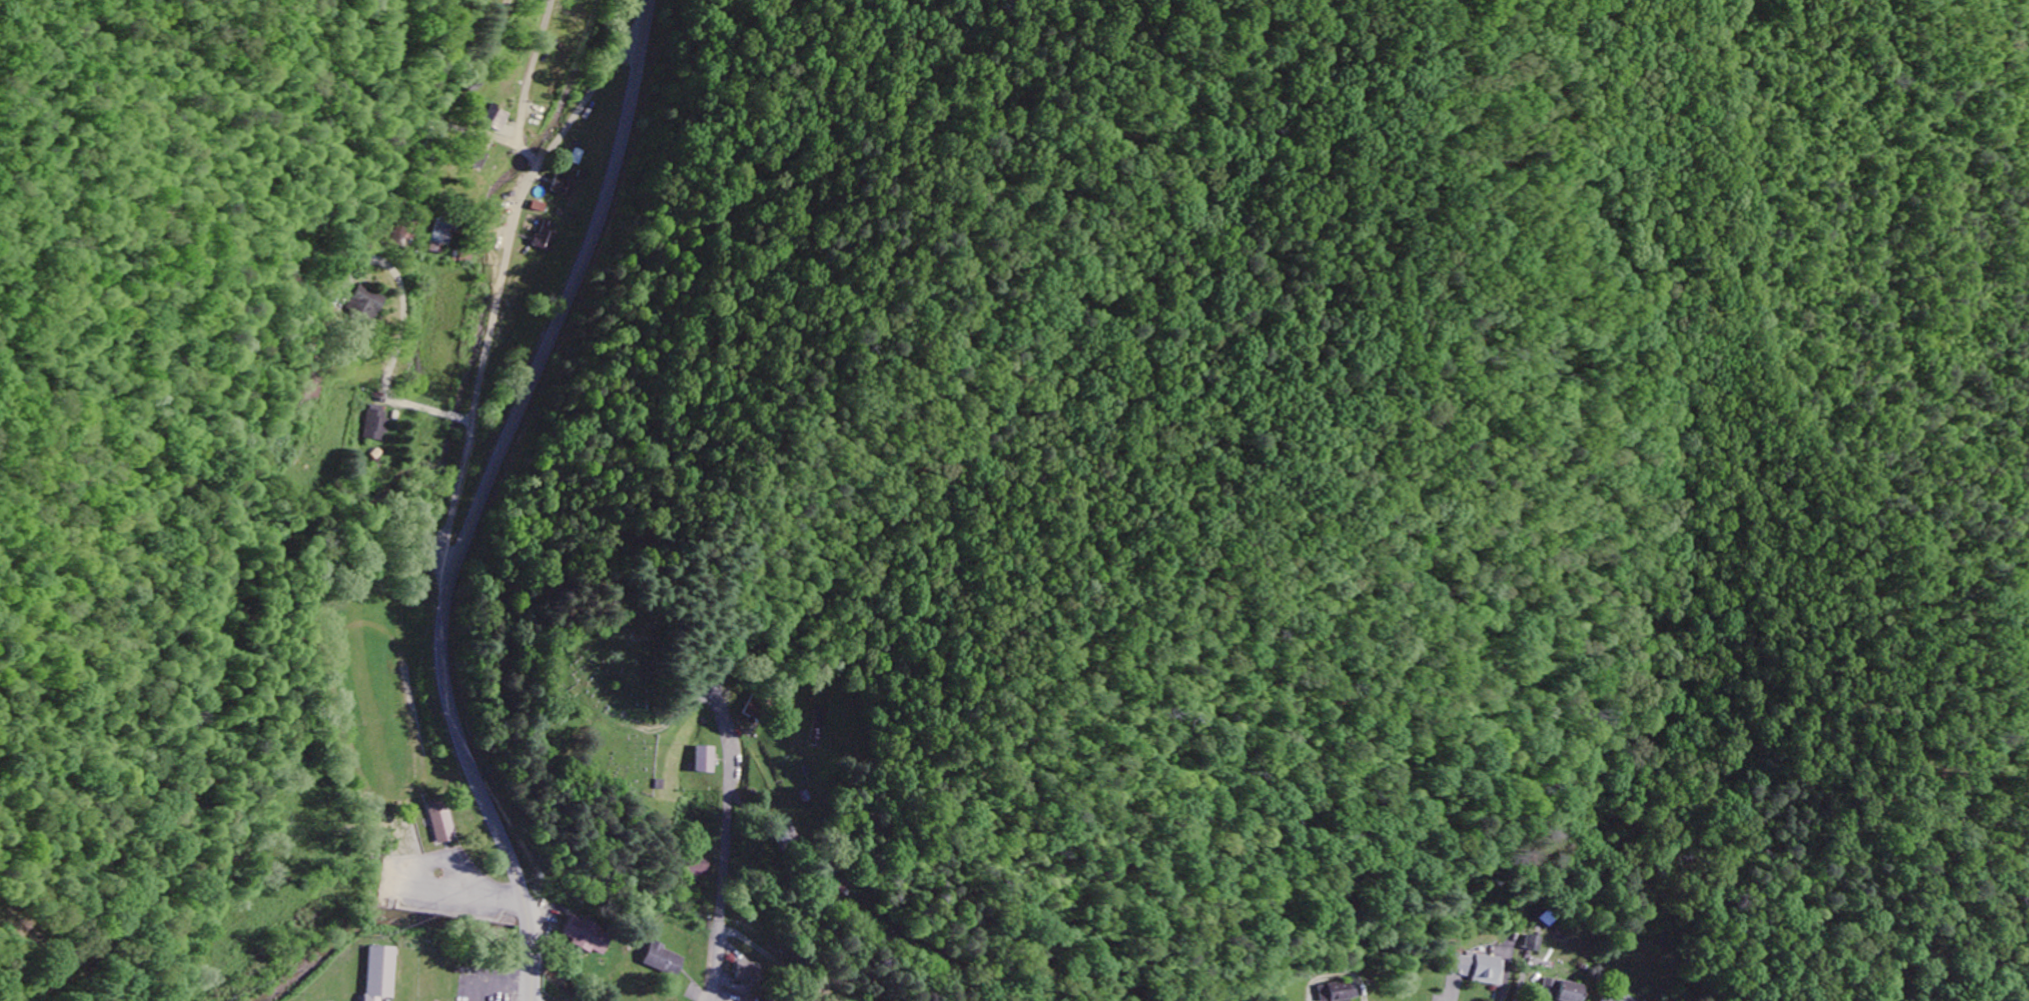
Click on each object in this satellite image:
road: (526, 84)
building: (497, 119)
building: (479, 159)
building: (566, 184)
building: (549, 236)
building: (444, 238)
road: (571, 286)
road: (488, 360)
building: (380, 423)
road: (445, 571)
building: (706, 760)
road: (480, 782)
building: (446, 823)
road: (726, 827)
building: (698, 866)
building: (585, 937)
building: (1536, 944)
building: (665, 961)
building: (1459, 966)
building: (1488, 971)
building: (380, 972)
building: (750, 975)
road: (509, 985)
building: (1564, 991)
building: (1341, 992)
building: (1610, 999)

